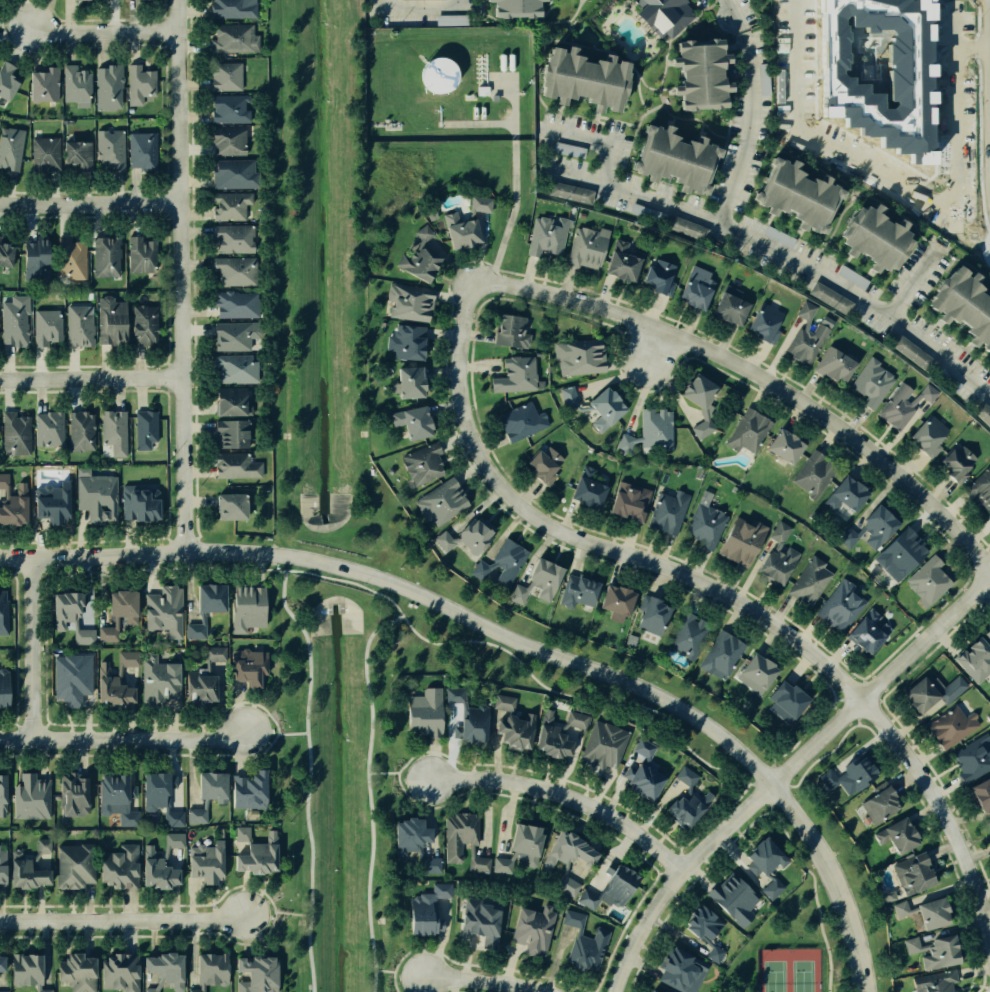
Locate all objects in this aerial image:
building: (81, 0)
building: (414, 0)
building: (505, 3)
road: (421, 7)
building: (229, 9)
building: (650, 11)
road: (733, 15)
building: (451, 19)
road: (101, 33)
building: (232, 38)
road: (972, 47)
building: (690, 71)
building: (224, 76)
building: (577, 77)
building: (440, 79)
water tower: (440, 79)
building: (7, 81)
building: (75, 83)
building: (41, 85)
building: (135, 86)
building: (108, 87)
building: (228, 109)
road: (747, 129)
building: (228, 142)
road: (602, 144)
building: (10, 148)
building: (567, 149)
building: (109, 150)
building: (143, 151)
building: (43, 154)
building: (76, 154)
building: (665, 155)
building: (231, 172)
road: (899, 184)
road: (512, 186)
building: (570, 192)
building: (791, 195)
road: (89, 204)
building: (481, 204)
building: (232, 206)
building: (646, 212)
building: (686, 227)
building: (422, 231)
building: (460, 234)
building: (544, 236)
building: (231, 237)
building: (869, 240)
building: (4, 248)
building: (585, 248)
road: (783, 255)
building: (141, 257)
building: (105, 258)
building: (31, 259)
building: (70, 259)
building: (417, 259)
building: (621, 260)
building: (233, 271)
building: (655, 275)
road: (179, 276)
building: (853, 277)
building: (692, 286)
road: (908, 288)
building: (830, 297)
building: (405, 300)
building: (236, 304)
building: (727, 305)
building: (959, 306)
building: (142, 319)
building: (110, 320)
building: (11, 321)
building: (761, 321)
building: (76, 323)
building: (42, 326)
building: (512, 330)
building: (802, 335)
building: (236, 336)
building: (407, 342)
road: (650, 348)
building: (911, 351)
building: (581, 356)
building: (831, 366)
building: (237, 369)
building: (513, 374)
road: (89, 375)
road: (757, 377)
building: (866, 380)
building: (408, 381)
building: (694, 388)
building: (231, 401)
building: (589, 403)
building: (903, 405)
building: (982, 414)
building: (410, 421)
building: (518, 421)
building: (78, 431)
building: (143, 431)
building: (746, 431)
building: (46, 432)
building: (14, 434)
building: (229, 434)
building: (648, 434)
building: (924, 434)
building: (109, 435)
building: (781, 448)
building: (421, 463)
building: (538, 464)
building: (949, 465)
building: (238, 467)
building: (812, 473)
building: (2, 479)
building: (585, 487)
building: (844, 496)
building: (98, 497)
building: (444, 501)
building: (625, 502)
building: (141, 503)
building: (57, 504)
building: (228, 506)
building: (17, 507)
building: (666, 513)
building: (989, 517)
building: (870, 523)
building: (703, 525)
building: (780, 532)
building: (466, 537)
building: (849, 537)
building: (737, 542)
building: (896, 551)
building: (503, 561)
building: (778, 564)
building: (540, 579)
building: (809, 583)
building: (932, 585)
road: (717, 587)
building: (577, 594)
building: (613, 603)
building: (164, 608)
building: (205, 608)
building: (247, 608)
building: (839, 611)
building: (2, 612)
building: (117, 612)
building: (71, 616)
building: (649, 616)
building: (987, 630)
road: (412, 632)
building: (685, 636)
building: (868, 636)
road: (516, 639)
road: (27, 647)
building: (216, 653)
building: (722, 655)
building: (974, 658)
building: (250, 666)
building: (753, 676)
building: (70, 677)
building: (115, 679)
building: (160, 680)
building: (947, 681)
building: (2, 688)
building: (200, 688)
building: (916, 696)
building: (783, 700)
building: (505, 702)
building: (424, 711)
building: (467, 716)
building: (578, 720)
road: (802, 726)
building: (949, 727)
building: (513, 729)
road: (275, 734)
road: (121, 738)
building: (555, 741)
building: (601, 747)
building: (644, 747)
park: (384, 760)
building: (970, 760)
building: (854, 768)
road: (396, 773)
road: (783, 773)
road: (307, 777)
building: (829, 778)
building: (639, 779)
building: (248, 789)
building: (2, 792)
building: (208, 793)
building: (76, 794)
building: (163, 795)
road: (367, 795)
building: (32, 796)
building: (980, 797)
building: (119, 798)
road: (562, 799)
building: (878, 804)
building: (681, 807)
building: (987, 827)
building: (242, 834)
building: (407, 836)
building: (896, 837)
building: (464, 840)
building: (522, 840)
building: (570, 854)
building: (259, 855)
building: (760, 855)
building: (205, 862)
building: (431, 862)
building: (161, 864)
building: (74, 865)
building: (118, 865)
building: (502, 865)
building: (1, 867)
building: (27, 867)
building: (910, 874)
road: (813, 885)
building: (614, 886)
building: (773, 888)
road: (683, 889)
building: (731, 893)
building: (929, 907)
building: (426, 909)
building: (901, 909)
road: (275, 913)
road: (121, 918)
building: (480, 921)
building: (696, 921)
building: (530, 930)
park: (790, 931)
building: (912, 945)
building: (936, 948)
building: (590, 952)
building: (716, 954)
building: (1, 964)
building: (678, 968)
building: (207, 969)
building: (24, 970)
building: (163, 970)
building: (120, 971)
building: (74, 972)
road: (396, 973)
building: (256, 975)
park: (801, 976)
park: (772, 978)
road: (480, 981)
building: (936, 982)
building: (650, 990)
building: (4, 991)

